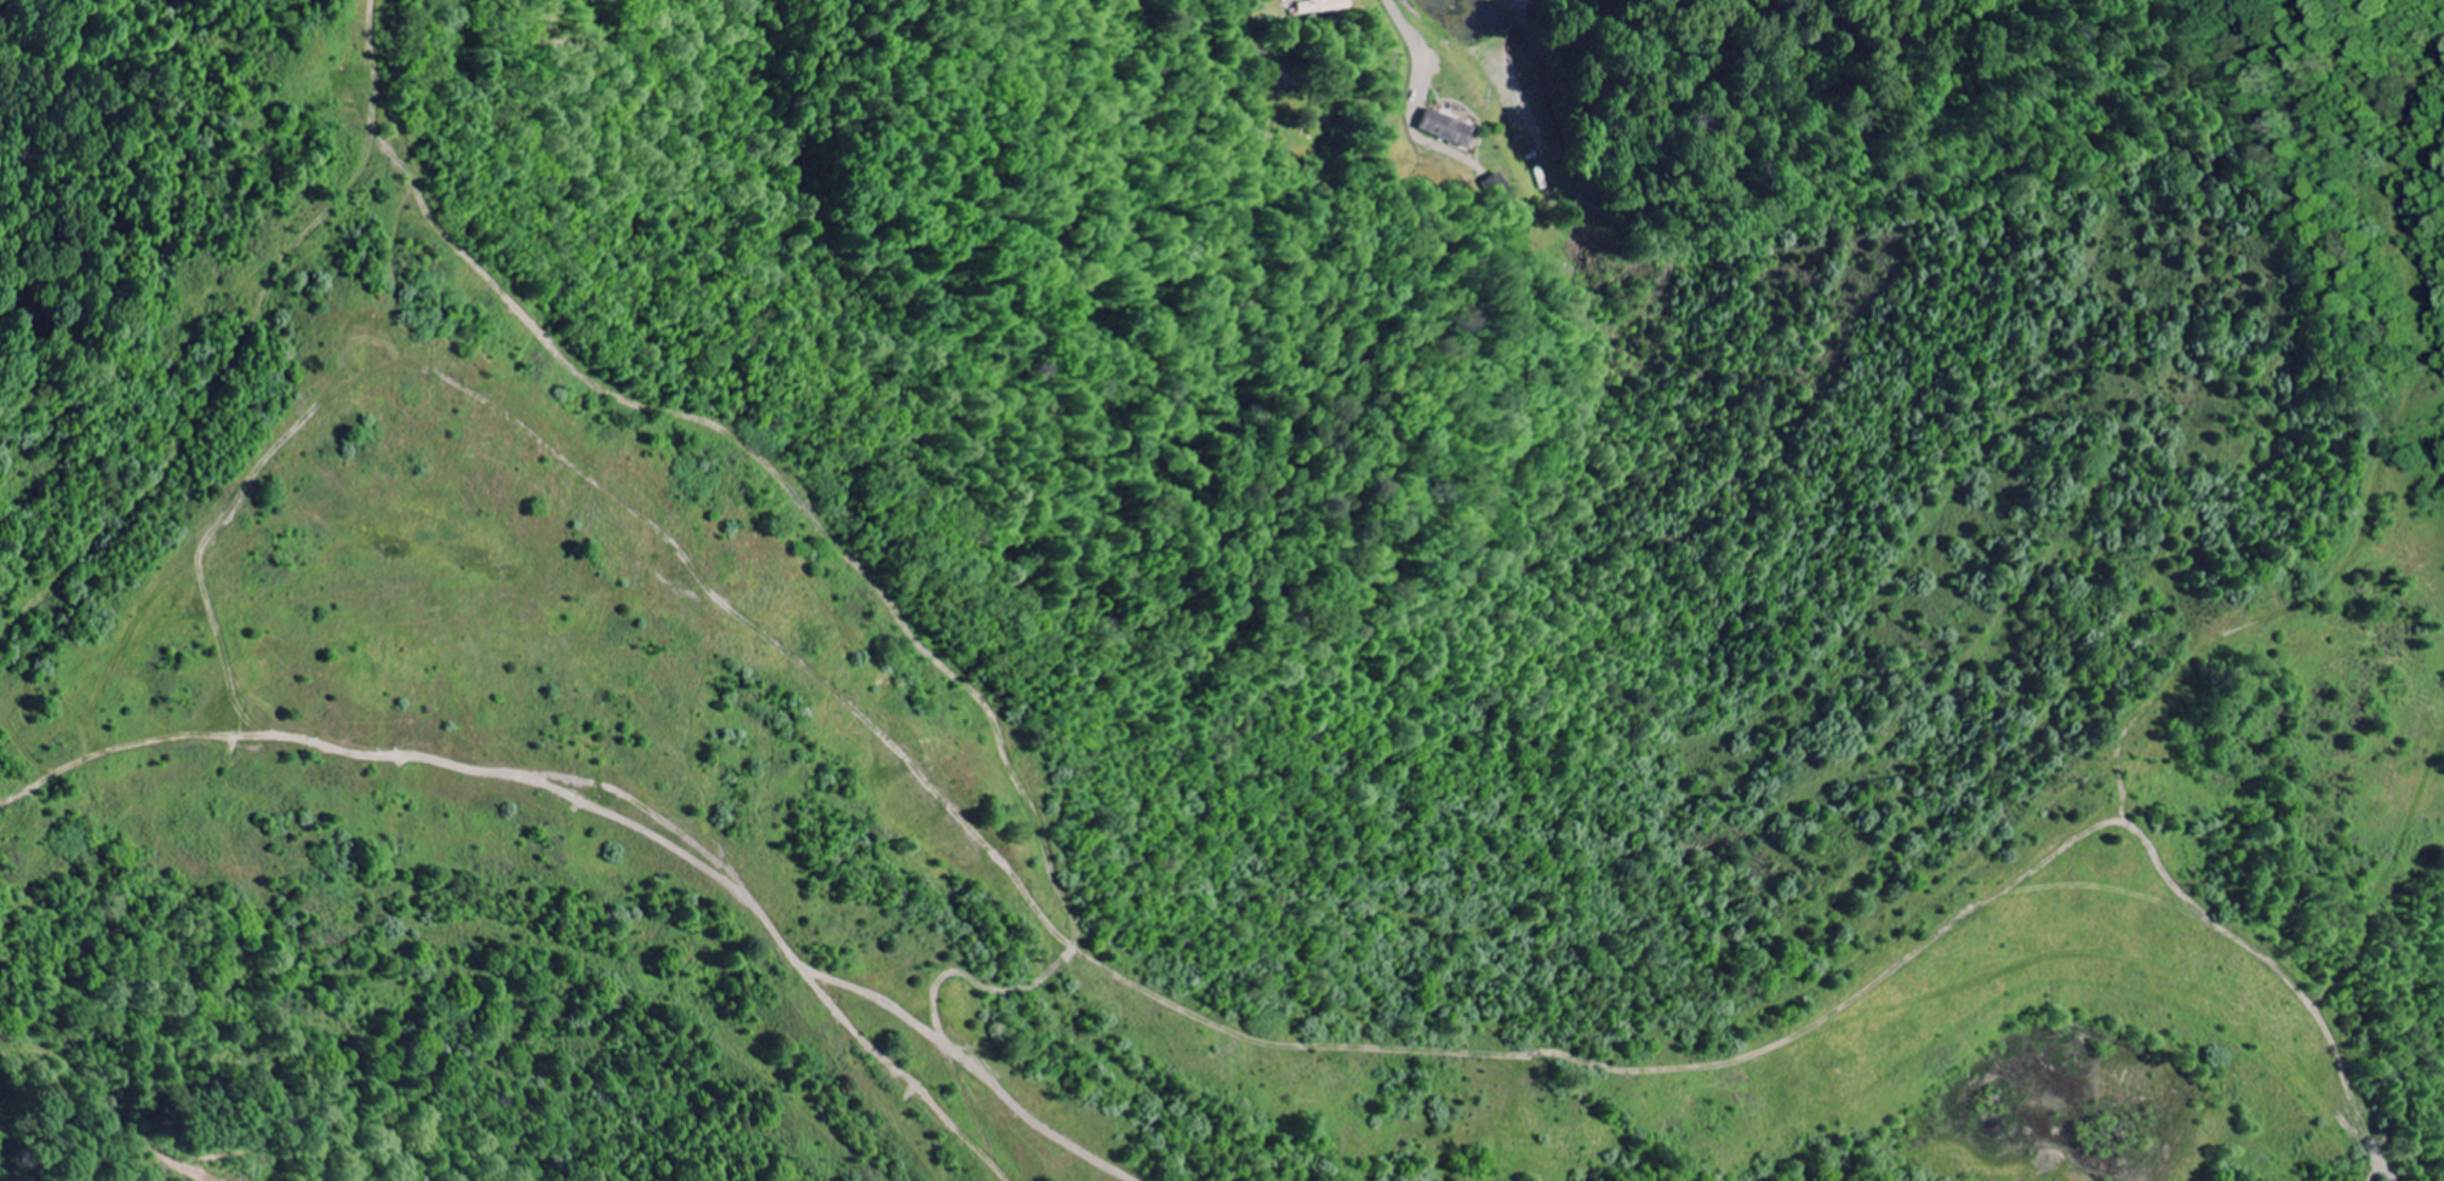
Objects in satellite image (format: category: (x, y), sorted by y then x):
building: (1323, 6)
road: (1245, 45)
building: (1445, 129)
building: (1498, 189)

